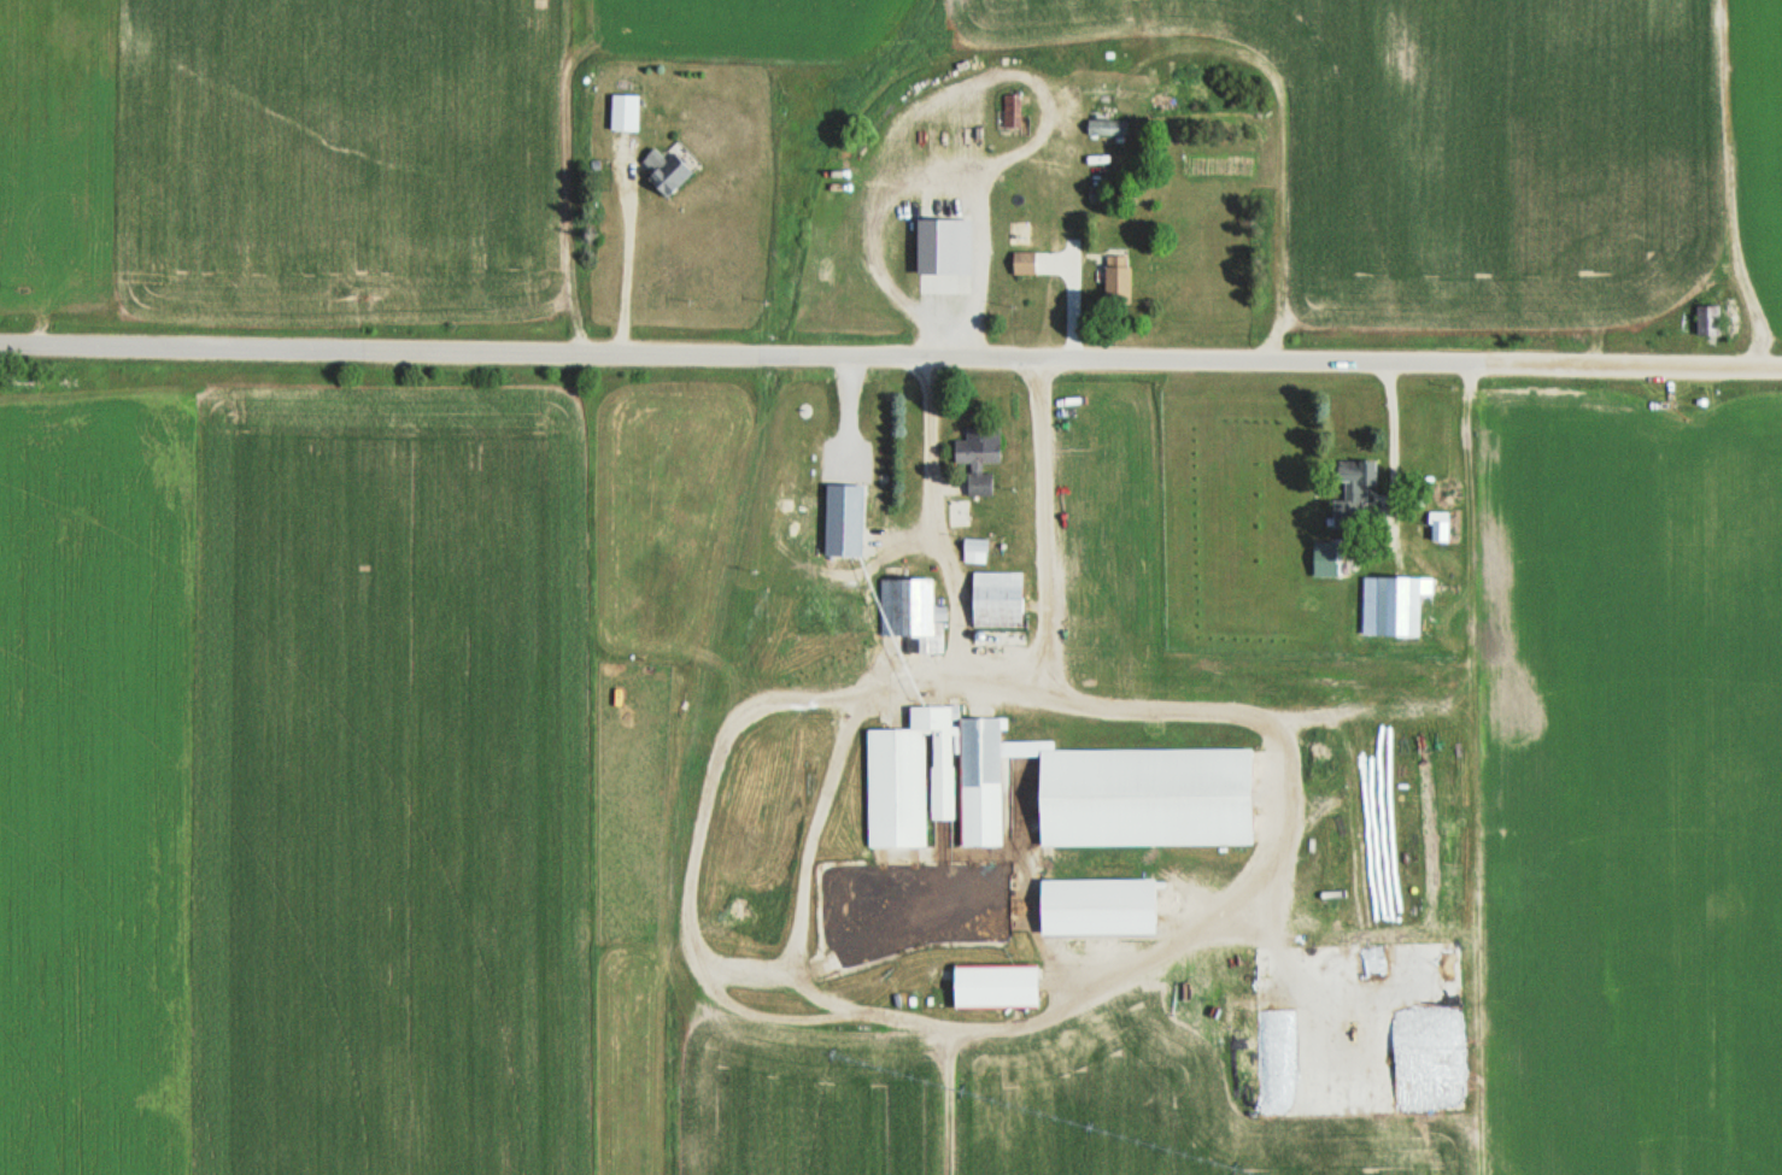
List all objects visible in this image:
building: (1013, 111)
building: (625, 112)
building: (1108, 128)
building: (669, 175)
building: (1024, 263)
building: (1118, 277)
building: (1707, 322)
road: (743, 357)
road: (1634, 364)
building: (979, 458)
building: (1354, 492)
building: (961, 513)
building: (1440, 525)
building: (880, 539)
building: (975, 544)
building: (997, 599)
building: (1395, 603)
building: (907, 606)
building: (910, 777)
building: (981, 781)
building: (1097, 905)
building: (995, 986)

